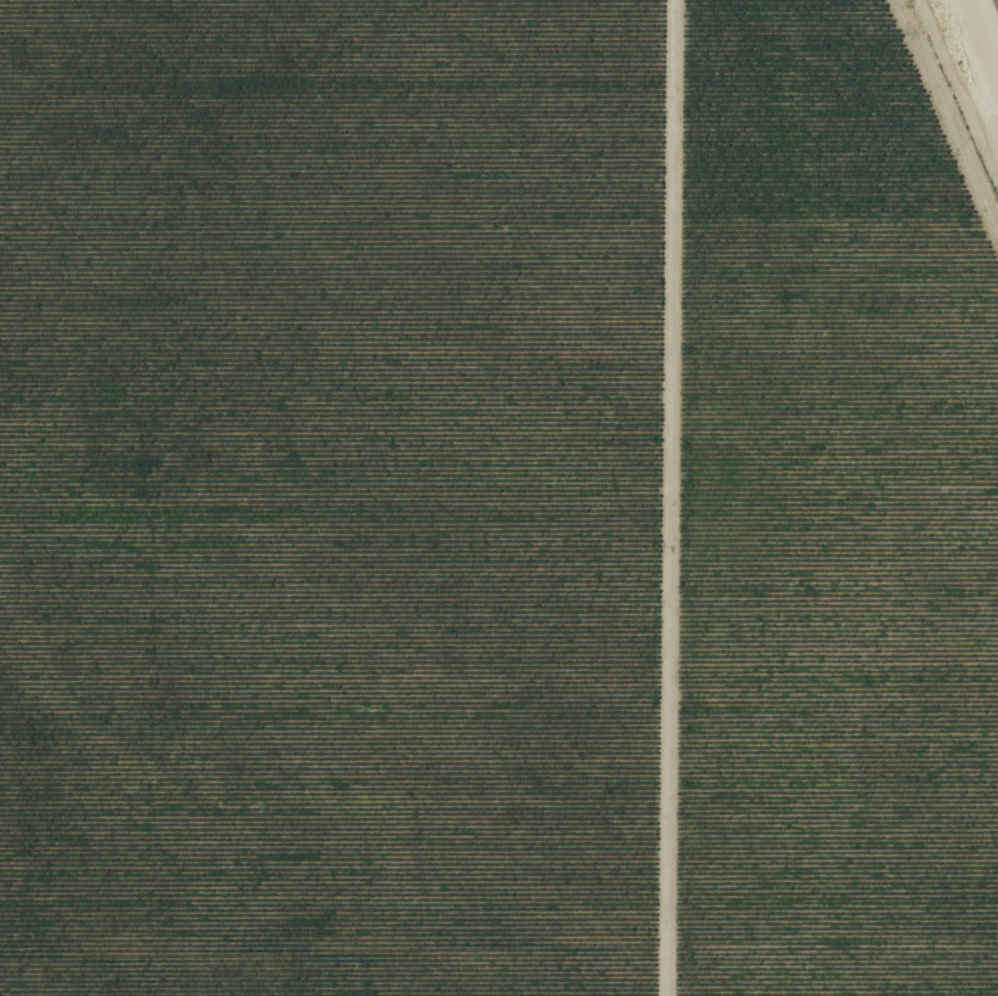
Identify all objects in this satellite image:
railway: (987, 24)
railway: (983, 35)
crop: (326, 496)
road: (663, 498)
crop: (827, 523)

